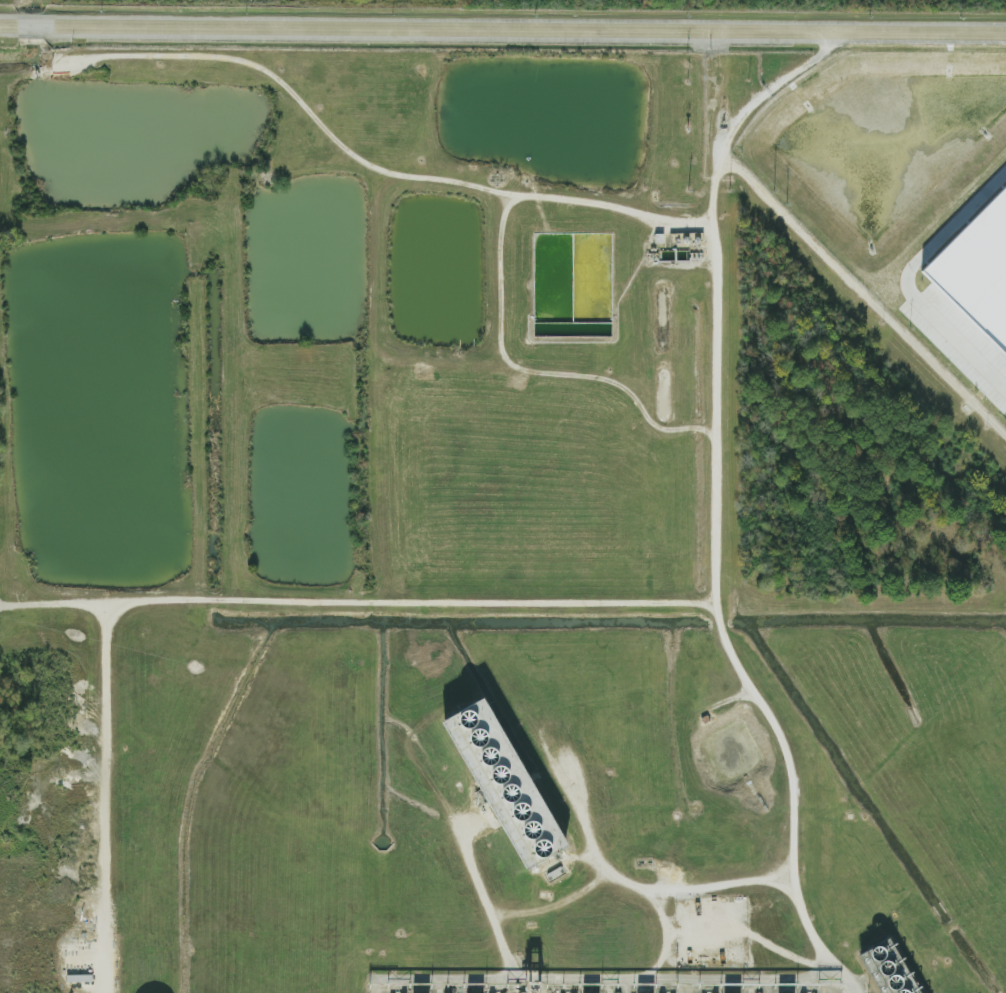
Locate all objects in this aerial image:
road: (503, 28)
road: (744, 113)
road: (381, 169)
building: (977, 270)
road: (908, 282)
road: (862, 295)
power plant: (502, 520)
road: (717, 565)
road: (357, 605)
building: (505, 784)
road: (469, 794)
road: (96, 799)
road: (469, 830)
road: (821, 937)
building: (887, 969)

